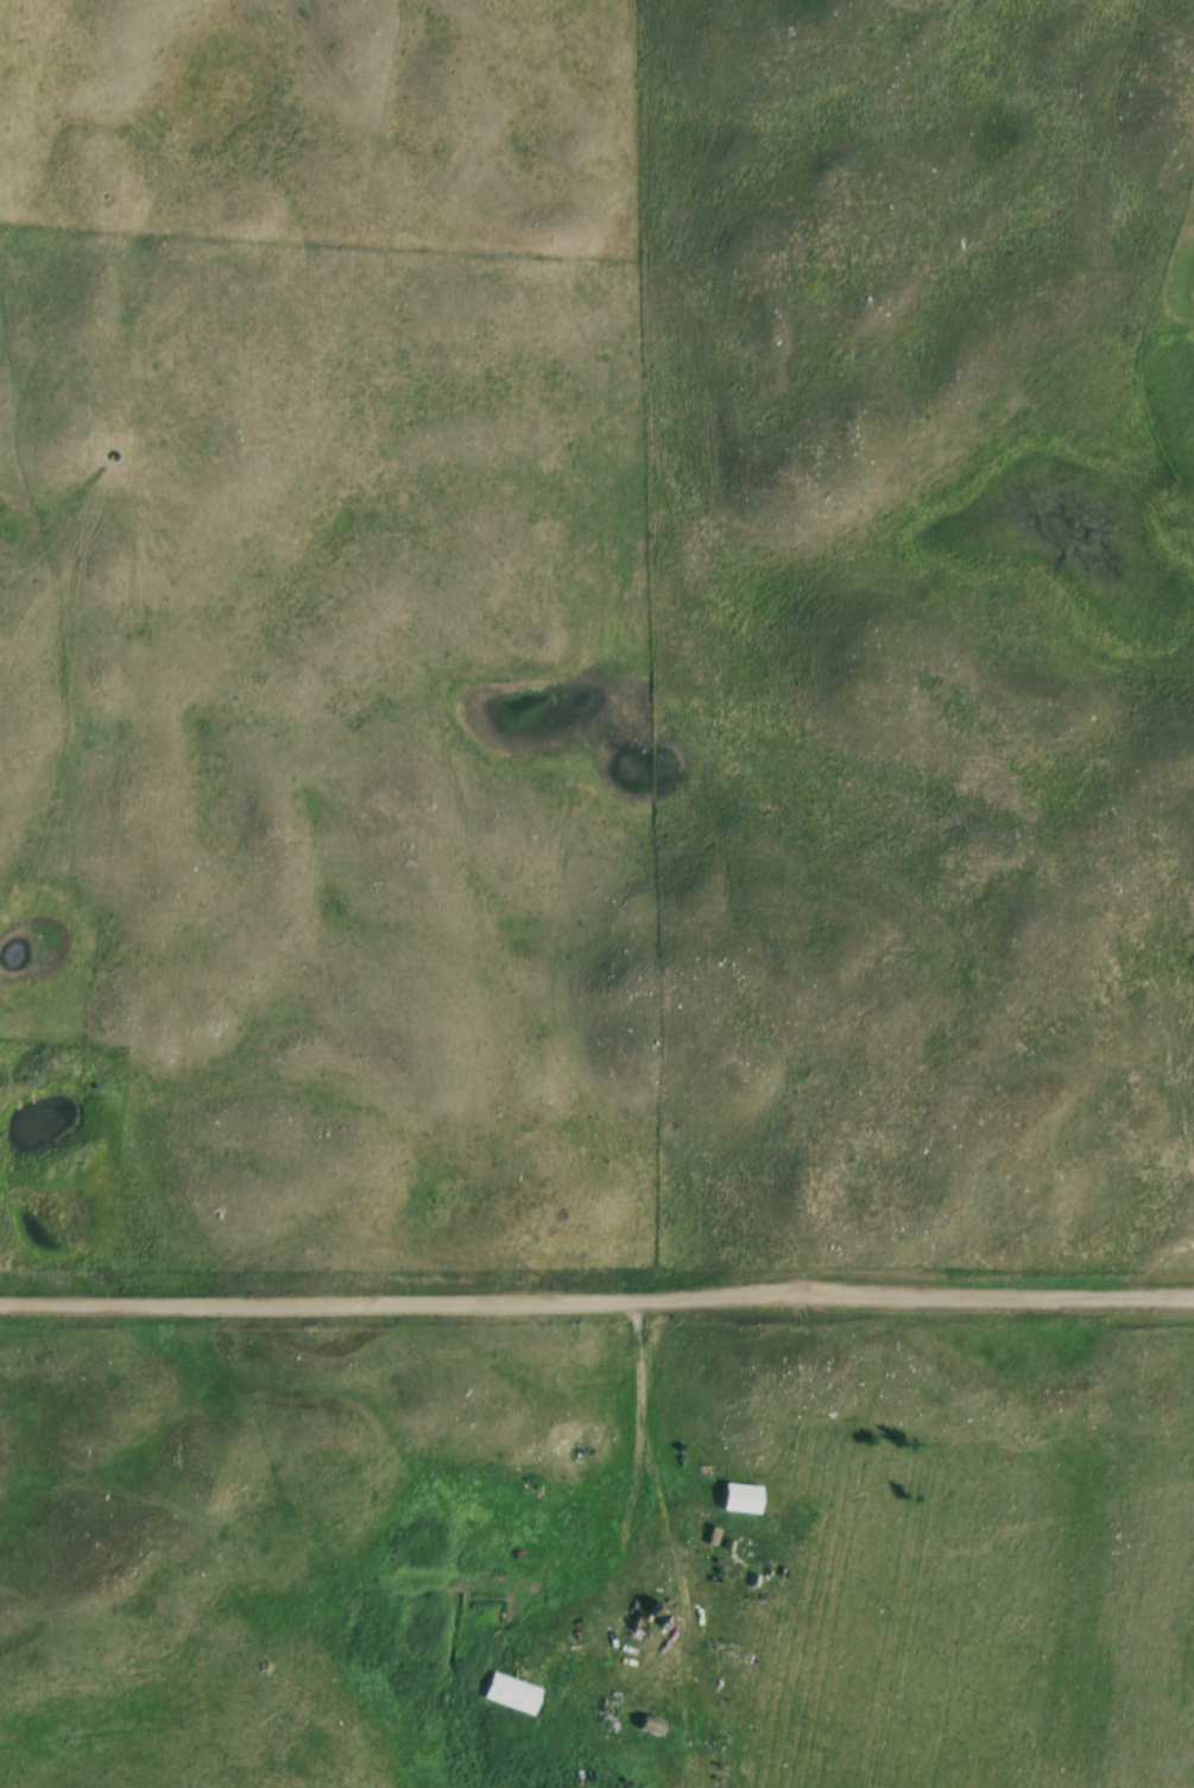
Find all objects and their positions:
road: (596, 1304)
road: (653, 1371)
building: (743, 1498)
building: (659, 1619)
road: (625, 1666)
building: (511, 1694)
building: (651, 1726)

